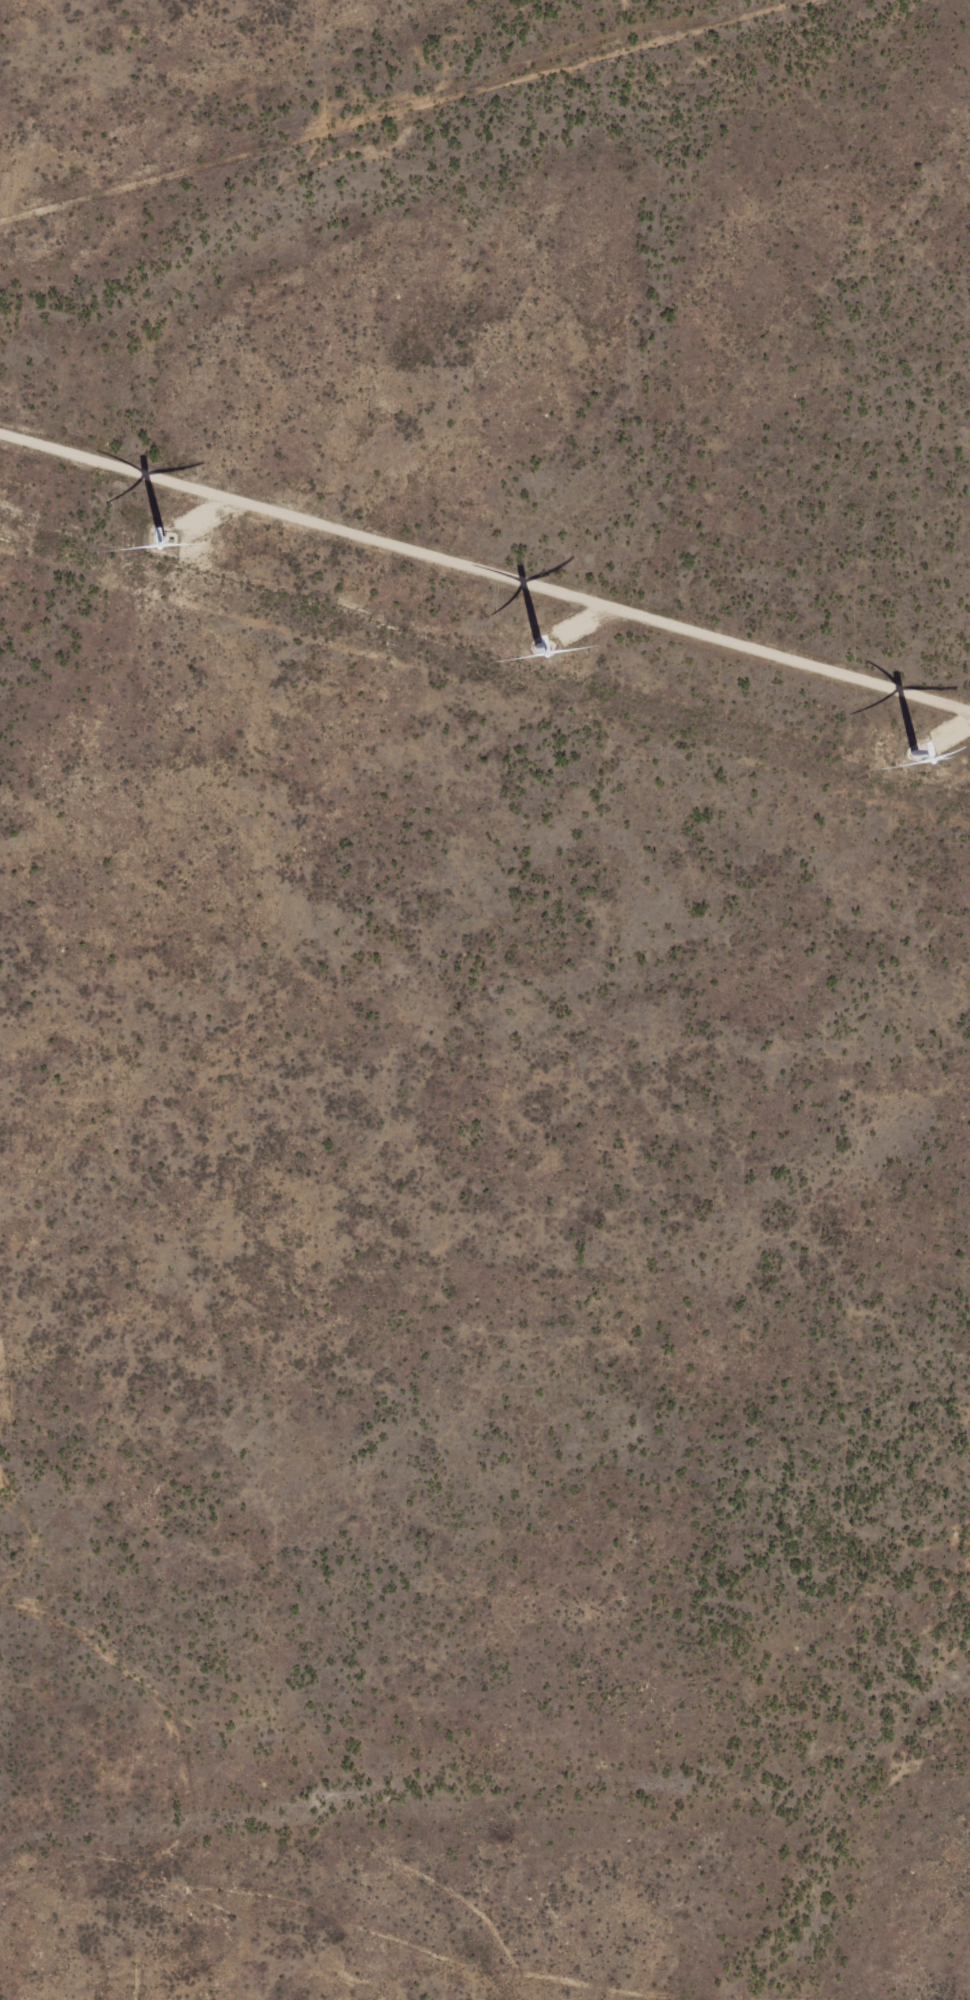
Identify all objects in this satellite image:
road: (433, 106)
wind turbine: (157, 548)
wind turbine: (532, 632)
wind turbine: (897, 789)

